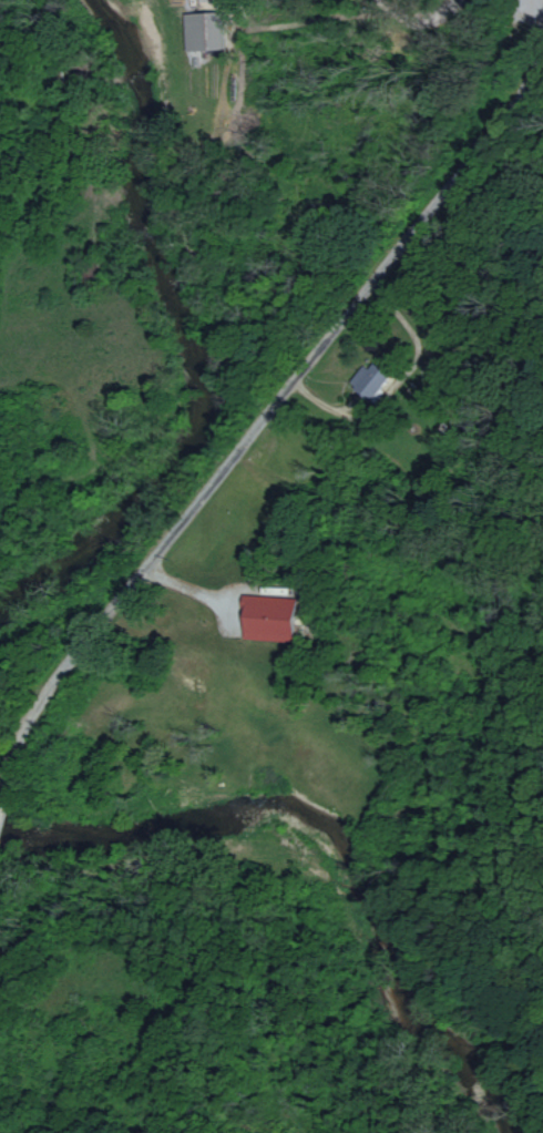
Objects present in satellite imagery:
building: (202, 31)
building: (371, 378)
road: (273, 397)
building: (270, 619)

